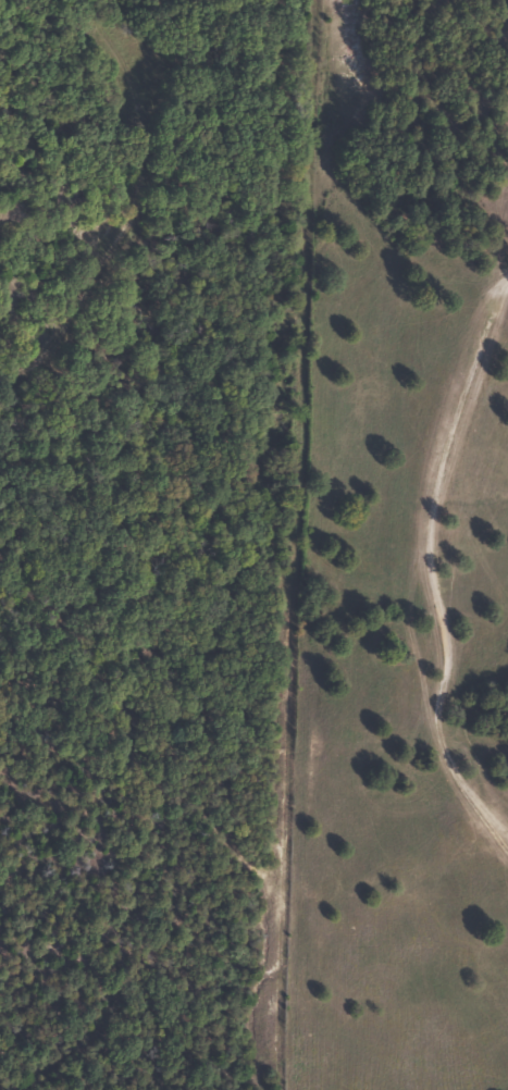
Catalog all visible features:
road: (260, 545)
road: (338, 953)

